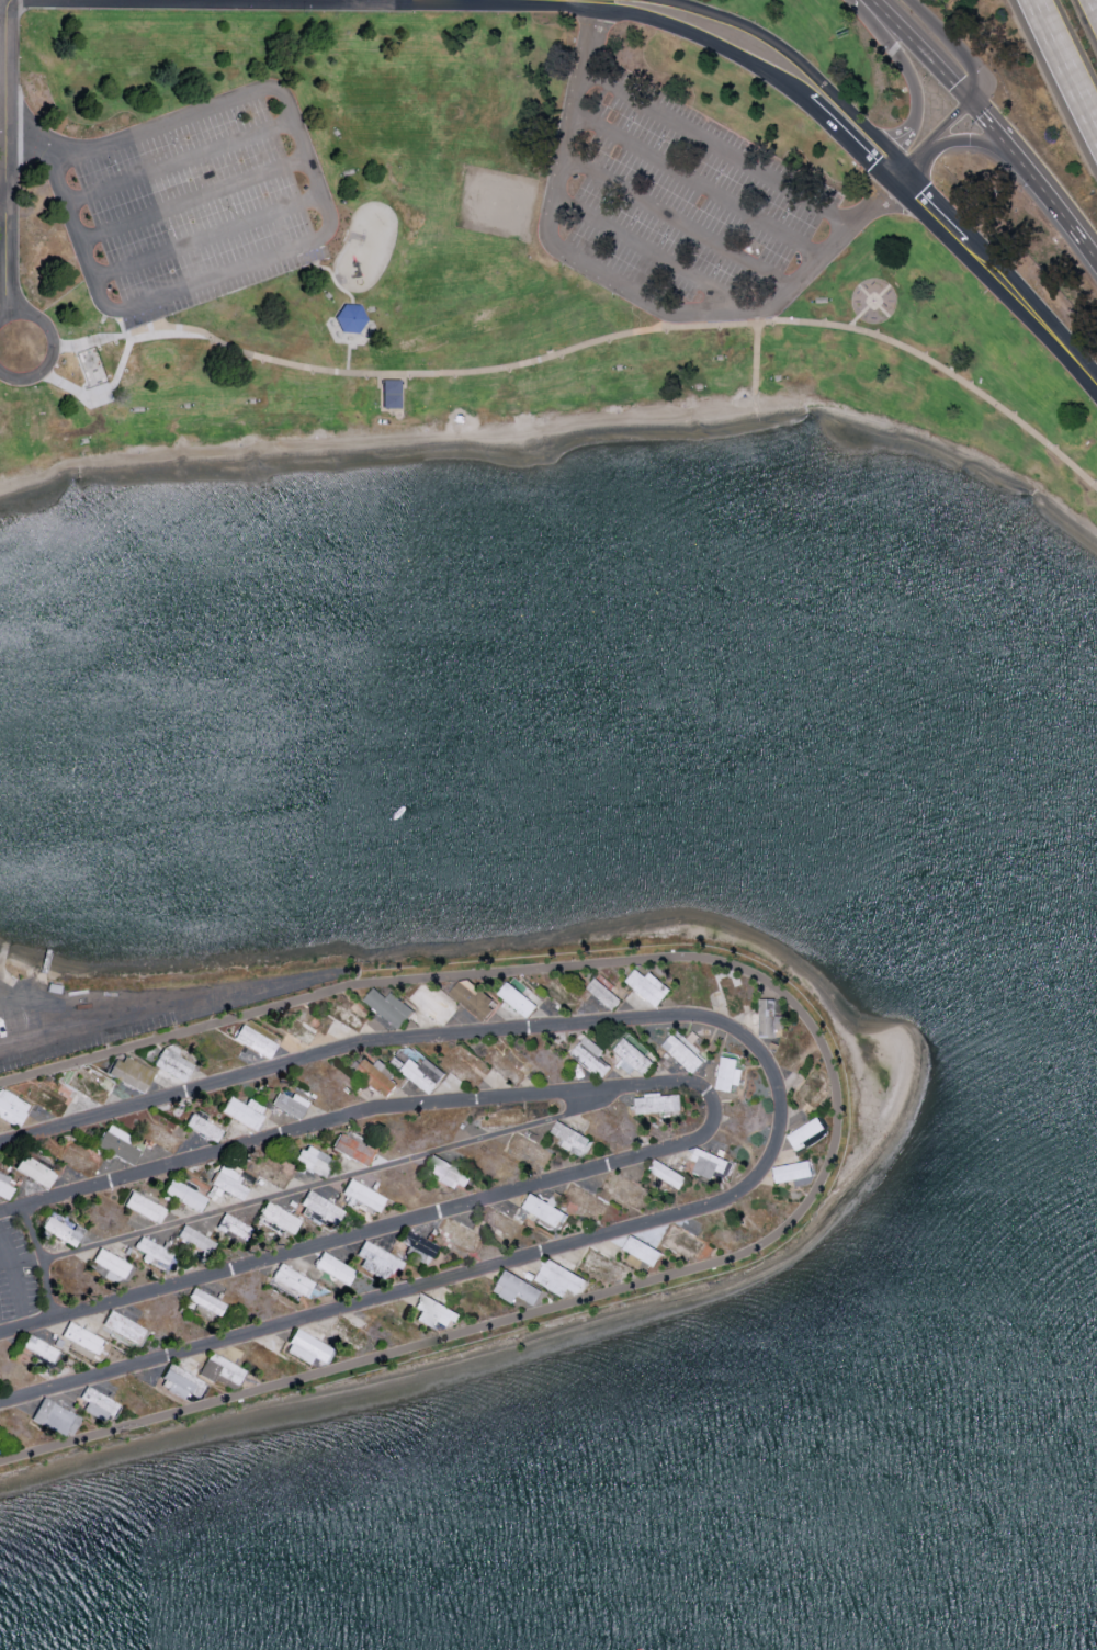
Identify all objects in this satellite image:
road: (1096, 0)
road: (676, 1)
road: (1039, 7)
road: (950, 45)
road: (925, 49)
road: (792, 56)
road: (896, 56)
road: (754, 64)
road: (1070, 68)
traffic signals: (976, 100)
road: (996, 127)
road: (34, 138)
road: (936, 142)
road: (975, 144)
road: (901, 149)
road: (719, 151)
road: (306, 154)
road: (4, 157)
road: (178, 160)
road: (904, 165)
road: (891, 180)
road: (698, 189)
road: (918, 194)
road: (878, 197)
road: (191, 200)
parking lot: (191, 203)
road: (2, 204)
road: (1058, 205)
parking lot: (680, 210)
road: (678, 224)
road: (205, 239)
road: (77, 247)
park: (470, 251)
road: (647, 255)
road: (611, 285)
road: (1009, 290)
road: (124, 324)
road: (54, 347)
road: (593, 347)
road: (102, 388)
pier: (49, 899)
road: (47, 950)
road: (1, 953)
road: (38, 986)
building: (648, 986)
road: (5, 992)
building: (604, 993)
building: (474, 997)
building: (518, 998)
road: (167, 1005)
building: (391, 1006)
parking lot: (120, 1012)
building: (770, 1017)
road: (418, 1036)
building: (255, 1040)
building: (592, 1055)
building: (686, 1056)
building: (633, 1058)
building: (172, 1063)
building: (131, 1072)
building: (423, 1073)
building: (728, 1073)
building: (378, 1075)
building: (290, 1103)
building: (659, 1103)
building: (12, 1107)
building: (244, 1110)
road: (837, 1117)
building: (203, 1126)
road: (293, 1129)
building: (572, 1139)
building: (117, 1142)
building: (352, 1148)
building: (314, 1159)
building: (710, 1163)
building: (35, 1169)
building: (792, 1171)
building: (448, 1172)
building: (668, 1174)
building: (229, 1182)
road: (323, 1182)
building: (4, 1185)
building: (184, 1194)
building: (363, 1194)
building: (144, 1206)
building: (321, 1207)
building: (545, 1210)
road: (432, 1211)
building: (279, 1217)
building: (235, 1225)
building: (63, 1230)
building: (195, 1237)
building: (419, 1245)
building: (643, 1250)
building: (155, 1252)
road: (5, 1256)
road: (42, 1258)
building: (377, 1258)
building: (111, 1262)
building: (335, 1267)
parking lot: (18, 1274)
building: (559, 1277)
road: (18, 1278)
building: (293, 1278)
road: (408, 1288)
building: (518, 1288)
building: (206, 1300)
building: (434, 1311)
building: (123, 1325)
building: (82, 1336)
building: (39, 1346)
building: (308, 1346)
building: (223, 1369)
building: (182, 1381)
building: (99, 1403)
building: (55, 1416)

